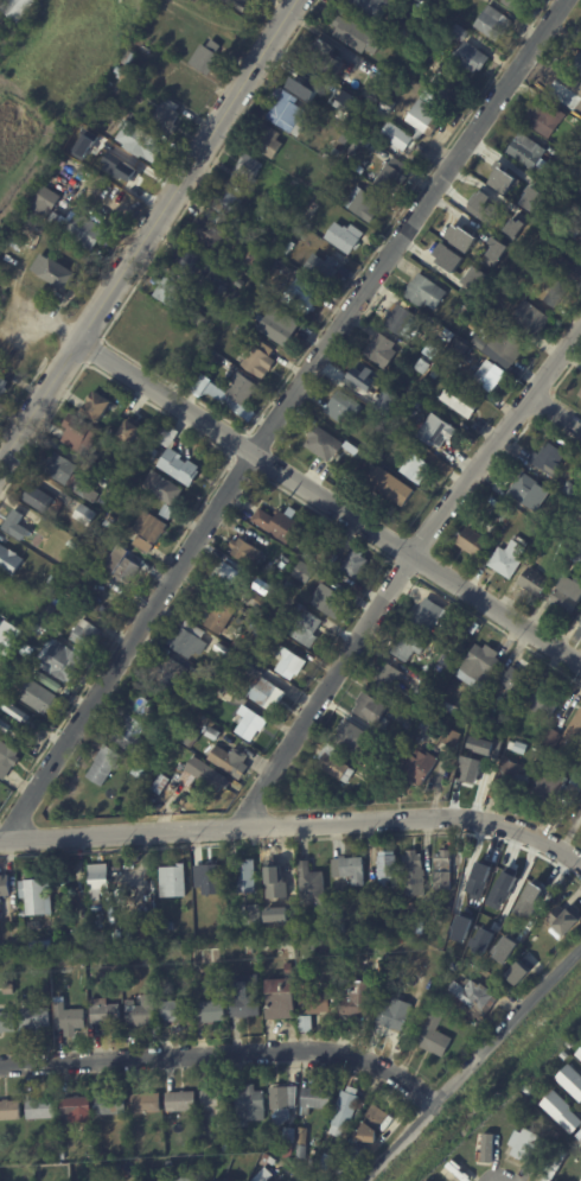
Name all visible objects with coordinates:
building: (0, 0)
building: (238, 4)
building: (513, 4)
building: (372, 7)
building: (17, 8)
building: (1, 14)
building: (493, 23)
building: (0, 34)
building: (358, 36)
building: (172, 45)
building: (470, 50)
building: (205, 57)
building: (325, 58)
building: (378, 58)
building: (130, 59)
building: (577, 64)
building: (123, 74)
building: (109, 84)
building: (304, 84)
building: (183, 88)
building: (355, 90)
building: (370, 95)
building: (102, 101)
building: (304, 106)
building: (385, 107)
building: (286, 110)
building: (94, 114)
building: (166, 116)
building: (375, 118)
building: (545, 120)
building: (426, 125)
building: (344, 139)
building: (142, 140)
building: (268, 142)
building: (77, 144)
building: (336, 152)
building: (528, 152)
building: (401, 154)
building: (247, 169)
building: (120, 173)
building: (579, 174)
building: (391, 176)
building: (52, 184)
building: (521, 190)
building: (579, 195)
building: (266, 197)
building: (45, 202)
building: (226, 203)
building: (363, 204)
building: (483, 208)
building: (344, 214)
building: (212, 216)
building: (58, 218)
building: (25, 222)
building: (85, 231)
road: (147, 231)
building: (206, 231)
building: (461, 233)
building: (576, 234)
building: (344, 237)
building: (19, 245)
building: (248, 252)
building: (496, 252)
building: (441, 260)
building: (186, 262)
building: (563, 267)
building: (321, 269)
building: (53, 273)
building: (475, 278)
building: (240, 284)
building: (219, 288)
building: (168, 290)
building: (426, 292)
building: (500, 293)
building: (557, 294)
building: (301, 300)
building: (467, 309)
building: (478, 317)
building: (197, 318)
building: (219, 319)
building: (531, 319)
building: (400, 322)
building: (279, 326)
building: (119, 342)
building: (499, 347)
building: (382, 350)
building: (260, 360)
building: (423, 367)
building: (434, 375)
building: (487, 375)
building: (82, 377)
building: (363, 379)
building: (2, 385)
building: (240, 393)
building: (579, 395)
building: (460, 401)
building: (416, 404)
building: (97, 407)
building: (344, 409)
building: (410, 412)
road: (281, 414)
road: (554, 414)
building: (402, 421)
building: (129, 432)
building: (436, 432)
building: (79, 434)
building: (167, 436)
building: (327, 445)
building: (152, 453)
building: (549, 459)
building: (58, 469)
building: (179, 469)
building: (420, 470)
building: (580, 477)
building: (391, 487)
building: (129, 489)
building: (162, 489)
building: (524, 489)
building: (84, 491)
building: (572, 491)
building: (38, 500)
road: (330, 503)
building: (167, 513)
building: (84, 515)
building: (580, 516)
building: (108, 525)
building: (277, 525)
building: (17, 526)
building: (148, 531)
building: (302, 533)
building: (473, 542)
building: (244, 551)
building: (89, 552)
building: (309, 554)
building: (576, 555)
building: (509, 558)
building: (8, 560)
building: (355, 565)
building: (122, 566)
road: (403, 570)
building: (304, 572)
building: (223, 578)
building: (535, 583)
building: (290, 588)
building: (566, 595)
building: (328, 602)
building: (257, 603)
building: (295, 605)
building: (51, 610)
building: (242, 611)
building: (221, 618)
building: (45, 620)
building: (430, 620)
building: (580, 623)
building: (37, 629)
building: (307, 629)
building: (263, 634)
building: (84, 635)
building: (7, 636)
building: (19, 636)
building: (187, 641)
building: (238, 643)
building: (407, 649)
building: (460, 650)
building: (223, 652)
building: (58, 662)
building: (222, 662)
building: (245, 662)
building: (289, 666)
building: (479, 668)
building: (20, 669)
building: (170, 673)
building: (387, 677)
building: (517, 679)
building: (46, 681)
building: (219, 691)
building: (427, 692)
building: (266, 694)
building: (39, 698)
building: (2, 699)
building: (543, 700)
building: (140, 707)
building: (451, 709)
building: (14, 710)
building: (371, 712)
building: (248, 724)
building: (5, 725)
building: (575, 730)
building: (132, 736)
building: (213, 736)
building: (349, 736)
building: (432, 736)
building: (451, 738)
building: (553, 739)
building: (506, 742)
building: (521, 749)
building: (226, 758)
building: (7, 761)
building: (334, 766)
building: (103, 767)
building: (415, 768)
building: (203, 776)
building: (467, 779)
building: (513, 779)
building: (576, 780)
building: (161, 782)
building: (547, 789)
road: (294, 823)
building: (477, 865)
building: (350, 869)
building: (388, 870)
building: (442, 870)
building: (414, 874)
building: (274, 875)
building: (244, 876)
building: (98, 878)
building: (207, 878)
building: (172, 881)
building: (311, 884)
building: (503, 884)
building: (4, 885)
building: (534, 893)
building: (551, 893)
building: (37, 896)
building: (462, 906)
building: (439, 912)
building: (23, 914)
building: (251, 914)
building: (390, 919)
building: (564, 919)
building: (33, 926)
building: (167, 926)
building: (340, 928)
building: (147, 933)
building: (319, 941)
building: (381, 942)
building: (40, 945)
building: (250, 948)
building: (66, 957)
building: (147, 957)
building: (55, 958)
building: (288, 967)
building: (518, 973)
building: (221, 985)
building: (7, 989)
building: (472, 993)
building: (83, 997)
building: (355, 997)
building: (245, 998)
building: (280, 998)
building: (312, 999)
building: (174, 1010)
building: (103, 1012)
building: (210, 1012)
building: (142, 1014)
building: (395, 1014)
building: (33, 1017)
building: (68, 1017)
building: (7, 1022)
building: (306, 1023)
building: (433, 1033)
building: (570, 1045)
road: (224, 1053)
building: (579, 1054)
building: (564, 1055)
road: (471, 1063)
building: (572, 1081)
building: (530, 1091)
building: (282, 1097)
building: (315, 1099)
building: (180, 1101)
building: (142, 1103)
building: (110, 1104)
building: (217, 1105)
building: (249, 1106)
building: (75, 1107)
building: (40, 1109)
building: (9, 1110)
building: (345, 1111)
building: (562, 1112)
building: (281, 1115)
building: (203, 1119)
building: (371, 1124)
building: (579, 1135)
building: (302, 1136)
building: (321, 1136)
building: (288, 1142)
building: (487, 1144)
building: (526, 1145)
building: (557, 1147)
building: (301, 1153)
building: (102, 1155)
building: (74, 1157)
building: (266, 1160)
building: (350, 1162)
building: (325, 1163)
building: (556, 1166)
building: (113, 1169)
building: (452, 1170)
building: (263, 1175)
building: (218, 1177)
building: (580, 1177)
building: (177, 1179)
building: (289, 1180)
building: (430, 1180)

